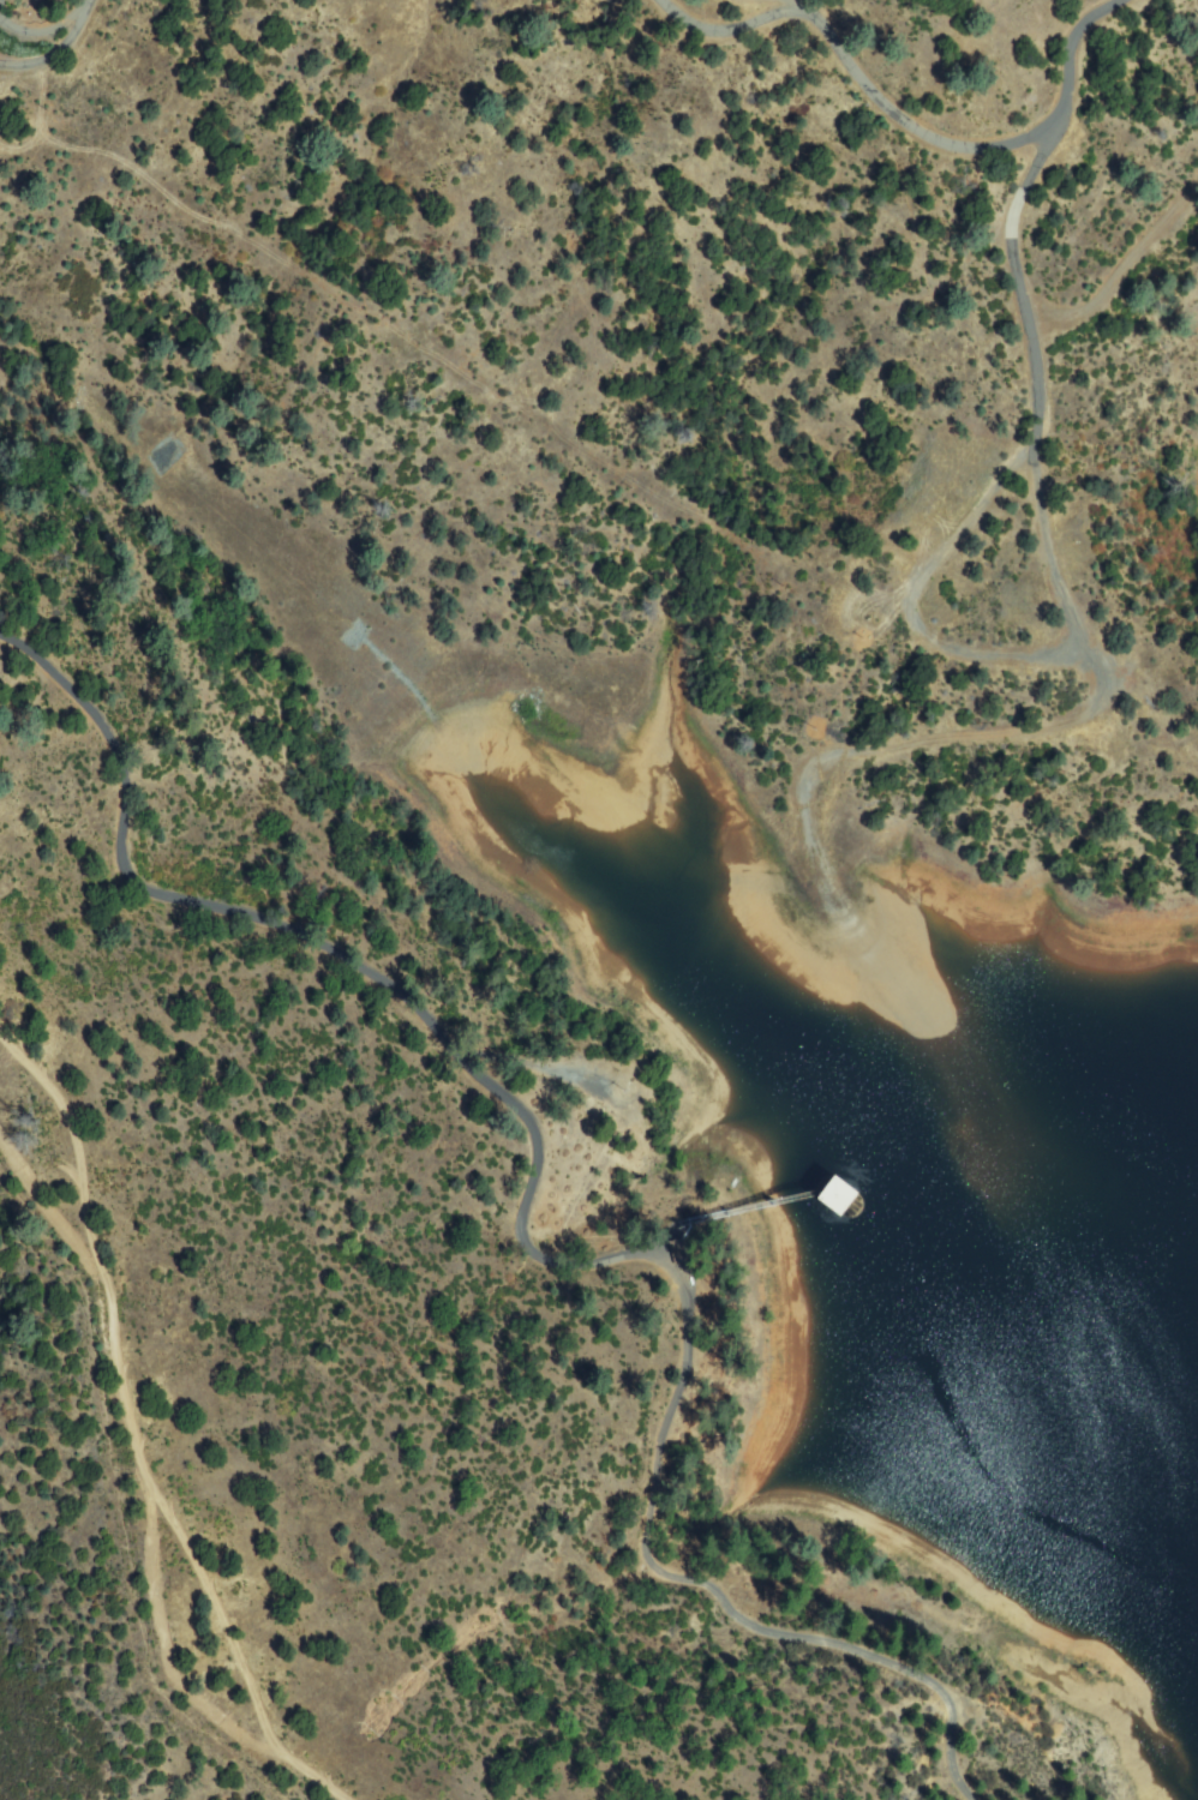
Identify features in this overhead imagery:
building: (675, 10)
road: (60, 53)
road: (910, 122)
building: (816, 1194)
road: (729, 1210)
road: (528, 1231)
road: (655, 1242)
building: (678, 1252)
road: (136, 1433)

